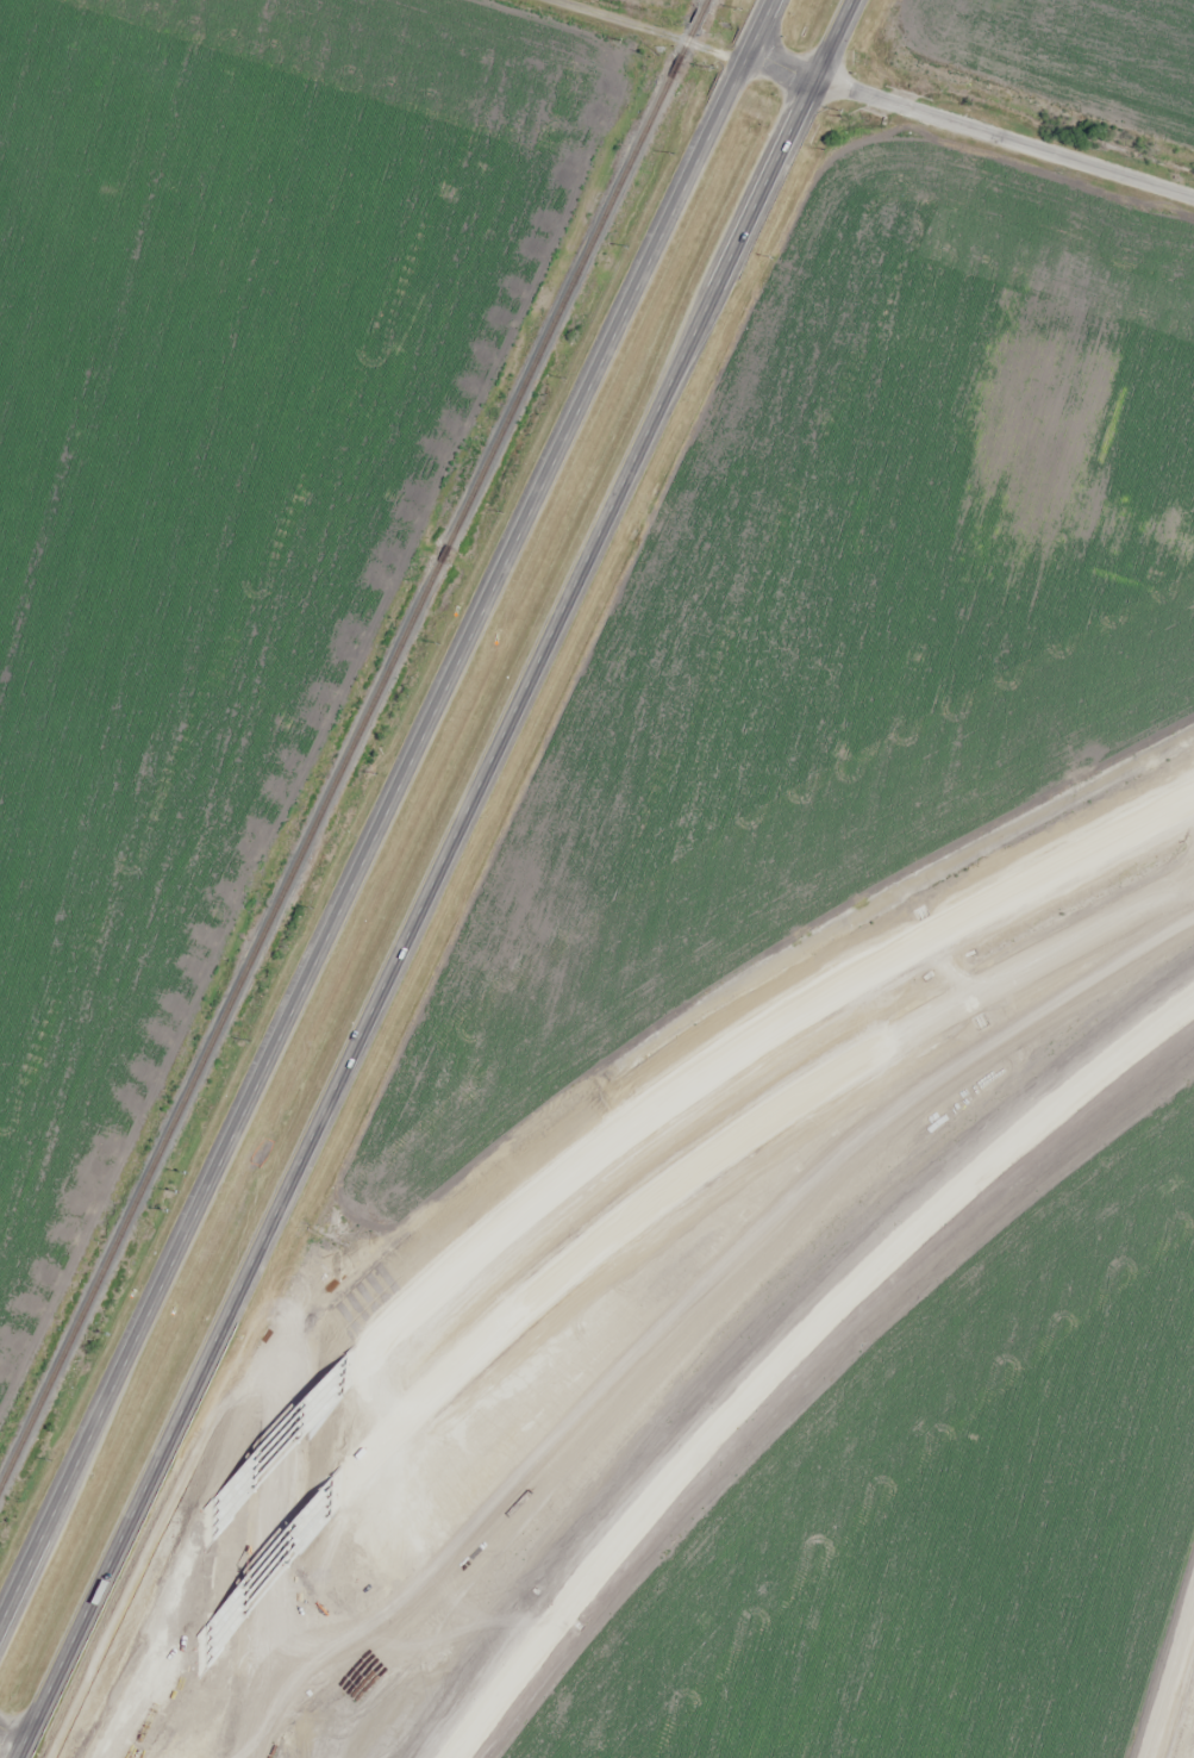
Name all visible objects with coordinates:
road: (836, 39)
crop: (1074, 54)
road: (873, 98)
road: (595, 542)
road: (518, 546)
railway: (351, 741)
road: (756, 1039)
road: (743, 1133)
road: (794, 1351)
road: (129, 1365)
road: (286, 1377)
road: (171, 1435)
road: (276, 1442)
road: (265, 1569)
road: (111, 1648)
road: (157, 1714)

